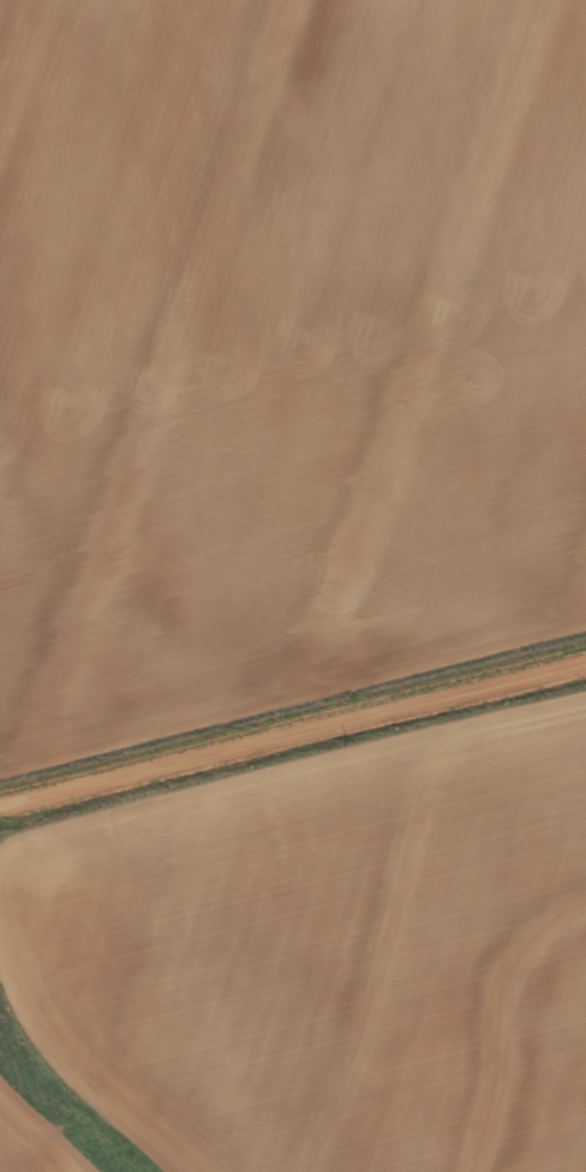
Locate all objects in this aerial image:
road: (293, 739)

